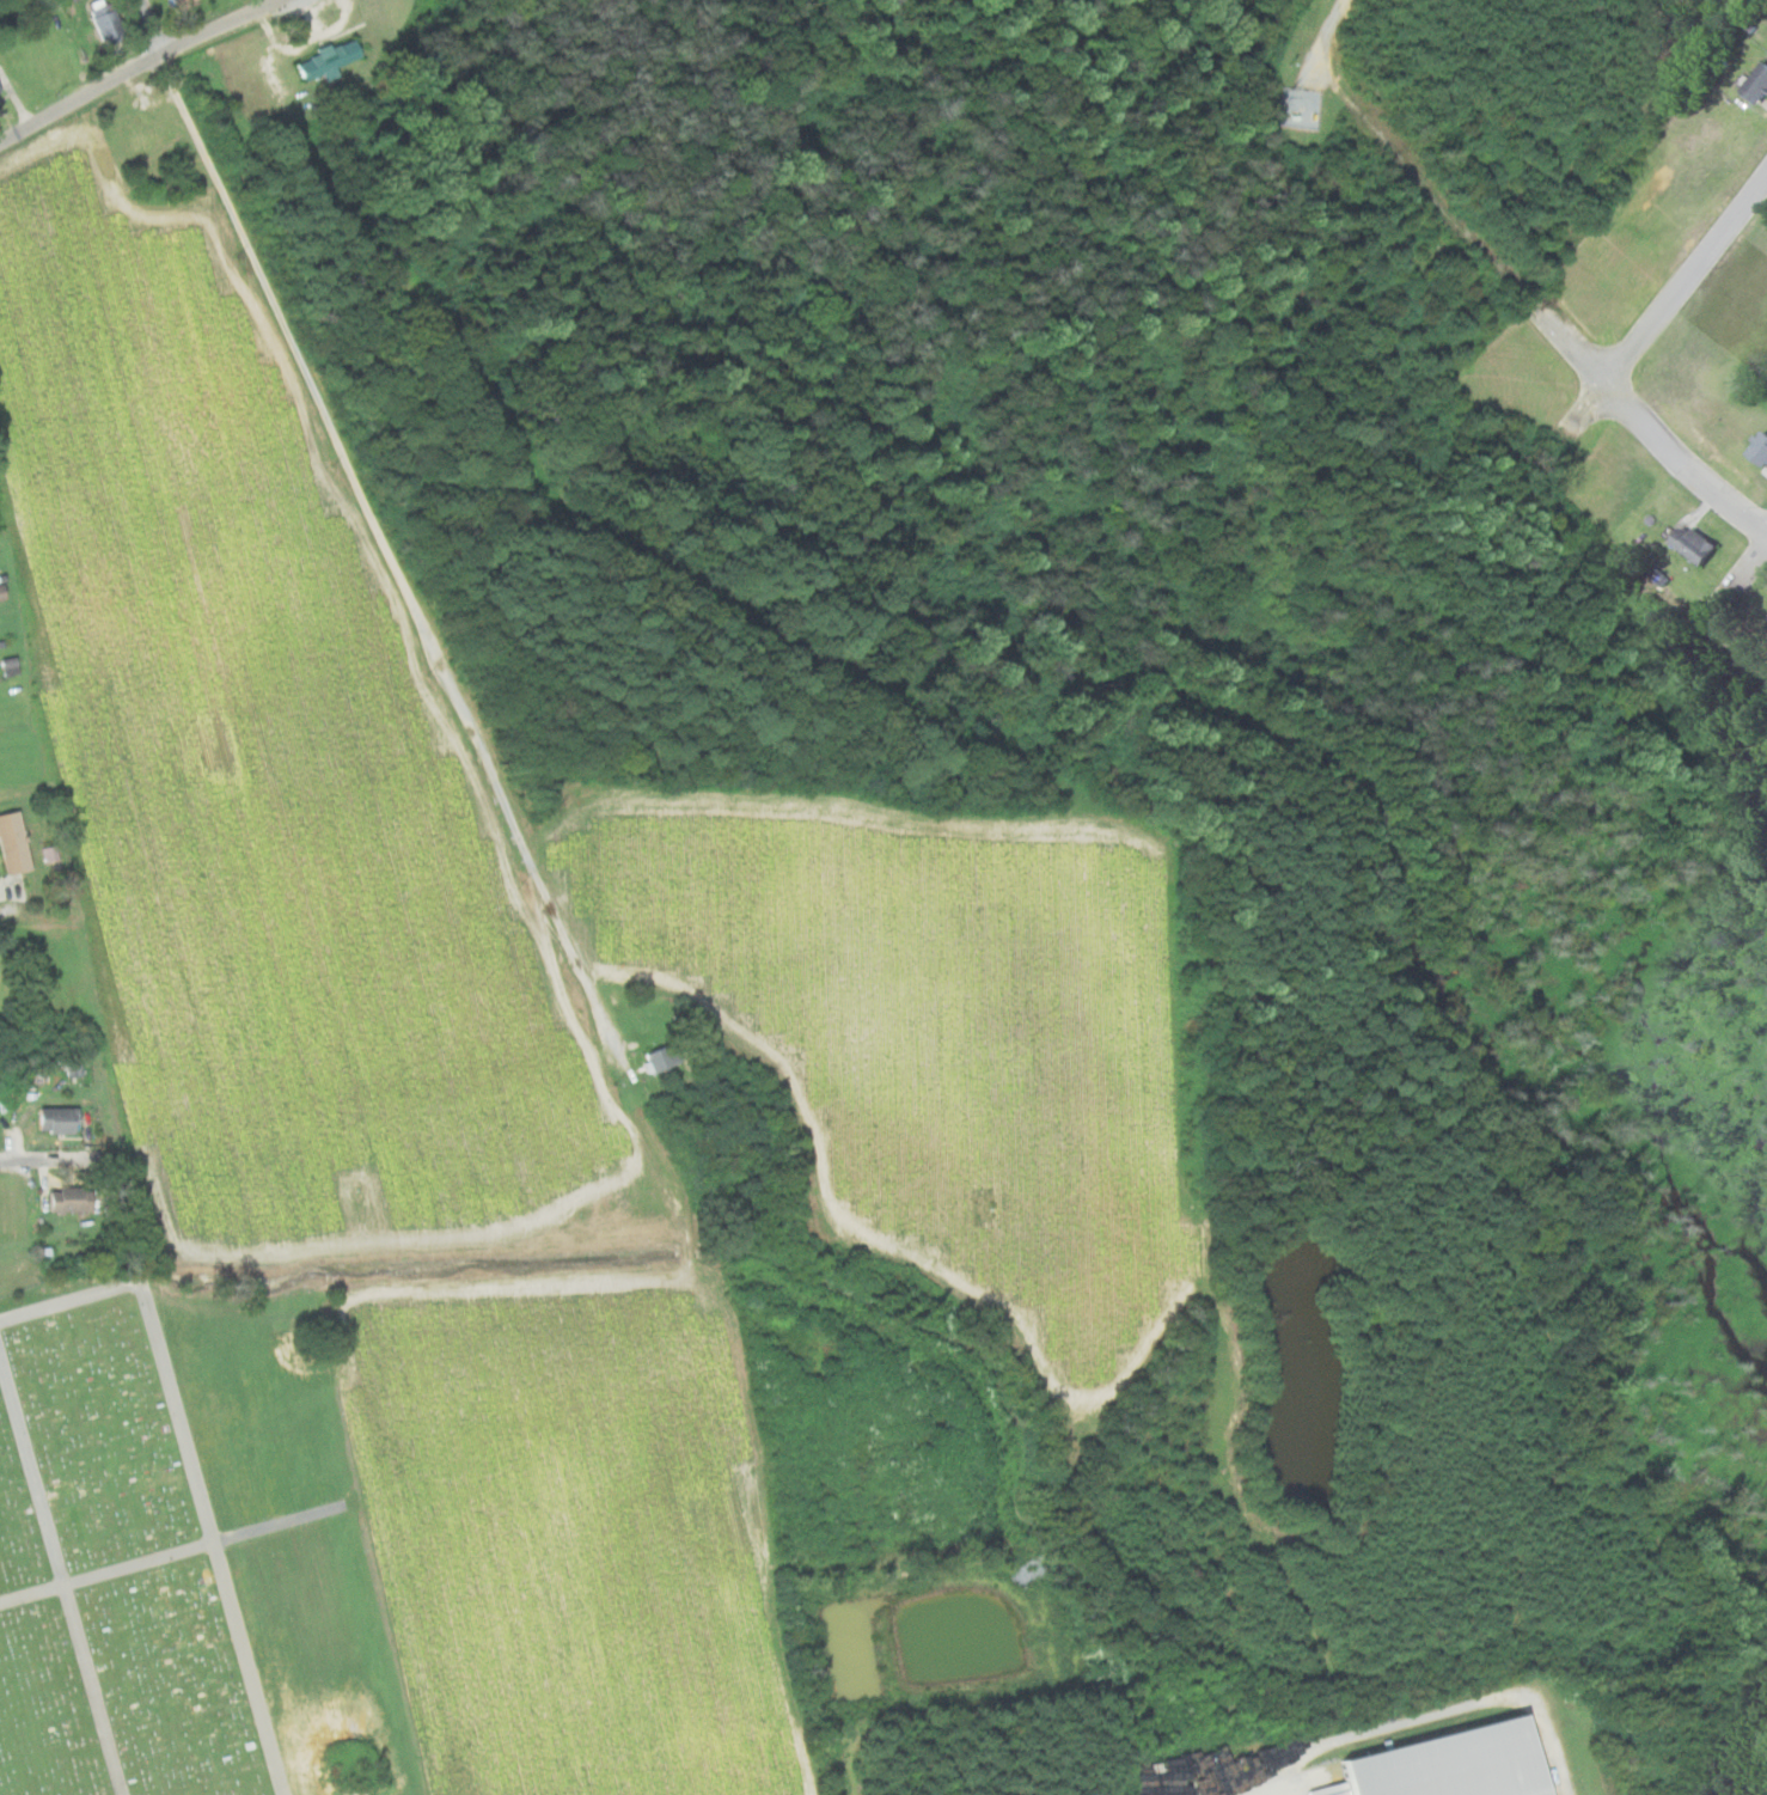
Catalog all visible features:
building: (177, 4)
building: (108, 20)
road: (154, 29)
road: (1331, 29)
building: (328, 60)
road: (140, 72)
building: (1755, 85)
building: (0, 91)
building: (141, 130)
road: (1686, 277)
road: (1649, 427)
building: (1759, 450)
building: (1690, 543)
road: (385, 547)
building: (4, 591)
building: (13, 666)
building: (17, 841)
building: (658, 1055)
building: (61, 1119)
road: (53, 1164)
building: (74, 1198)
road: (189, 1467)
road: (66, 1568)
road: (142, 1568)
park: (115, 1571)
road: (36, 1598)
building: (1443, 1764)

